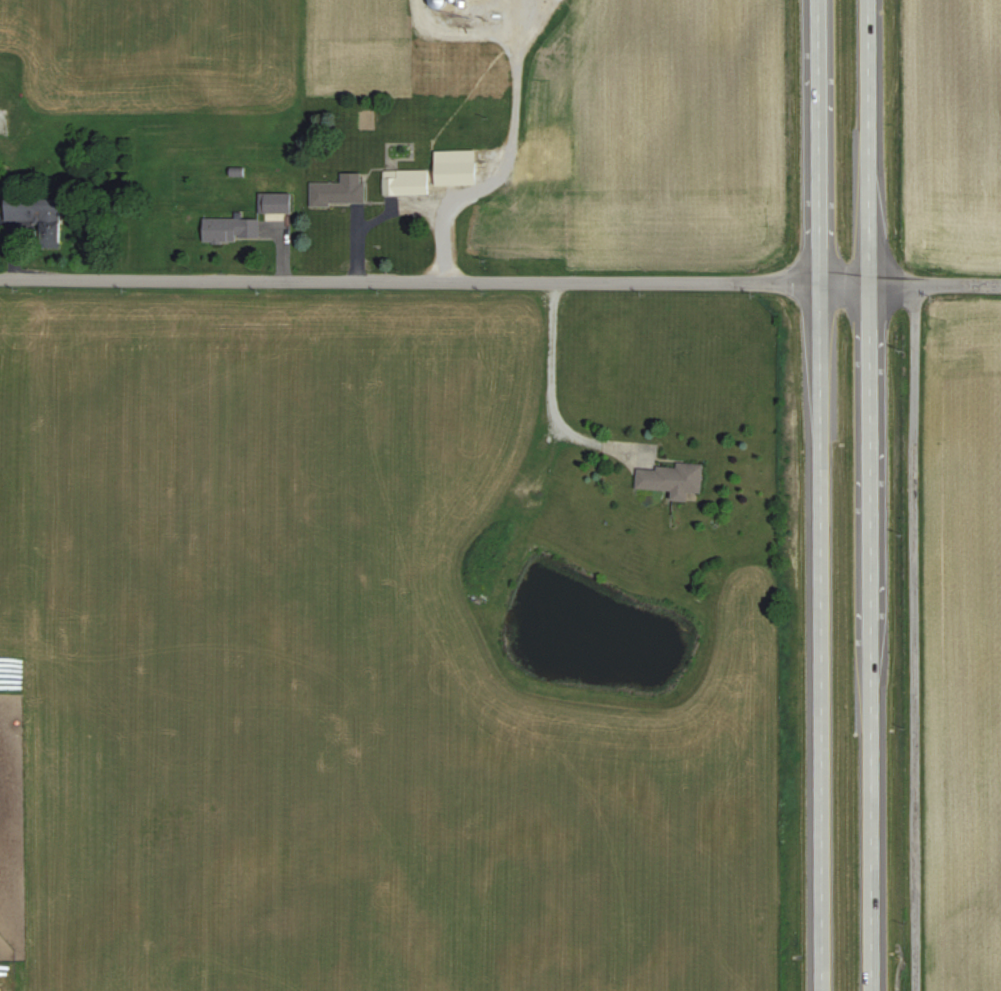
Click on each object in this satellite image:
building: (436, 3)
building: (461, 4)
road: (817, 141)
road: (870, 142)
road: (506, 157)
building: (540, 161)
building: (454, 166)
building: (404, 181)
building: (339, 190)
building: (37, 212)
building: (230, 228)
road: (409, 281)
road: (844, 284)
road: (935, 285)
road: (550, 389)
building: (672, 479)
road: (818, 636)
road: (870, 637)
road: (914, 638)

